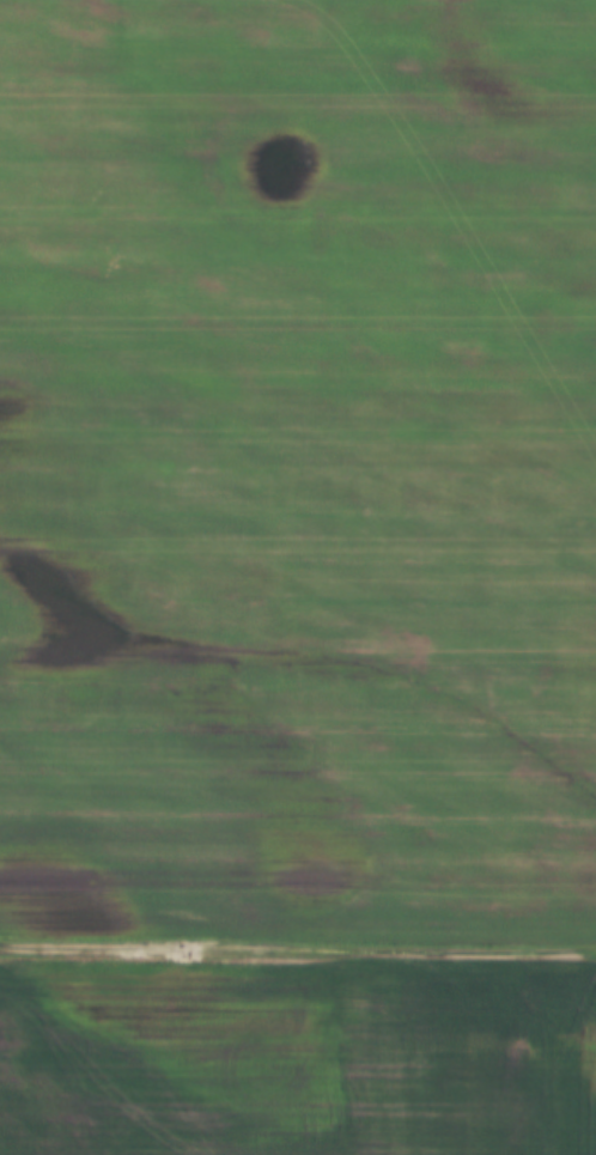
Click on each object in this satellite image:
road: (298, 937)

